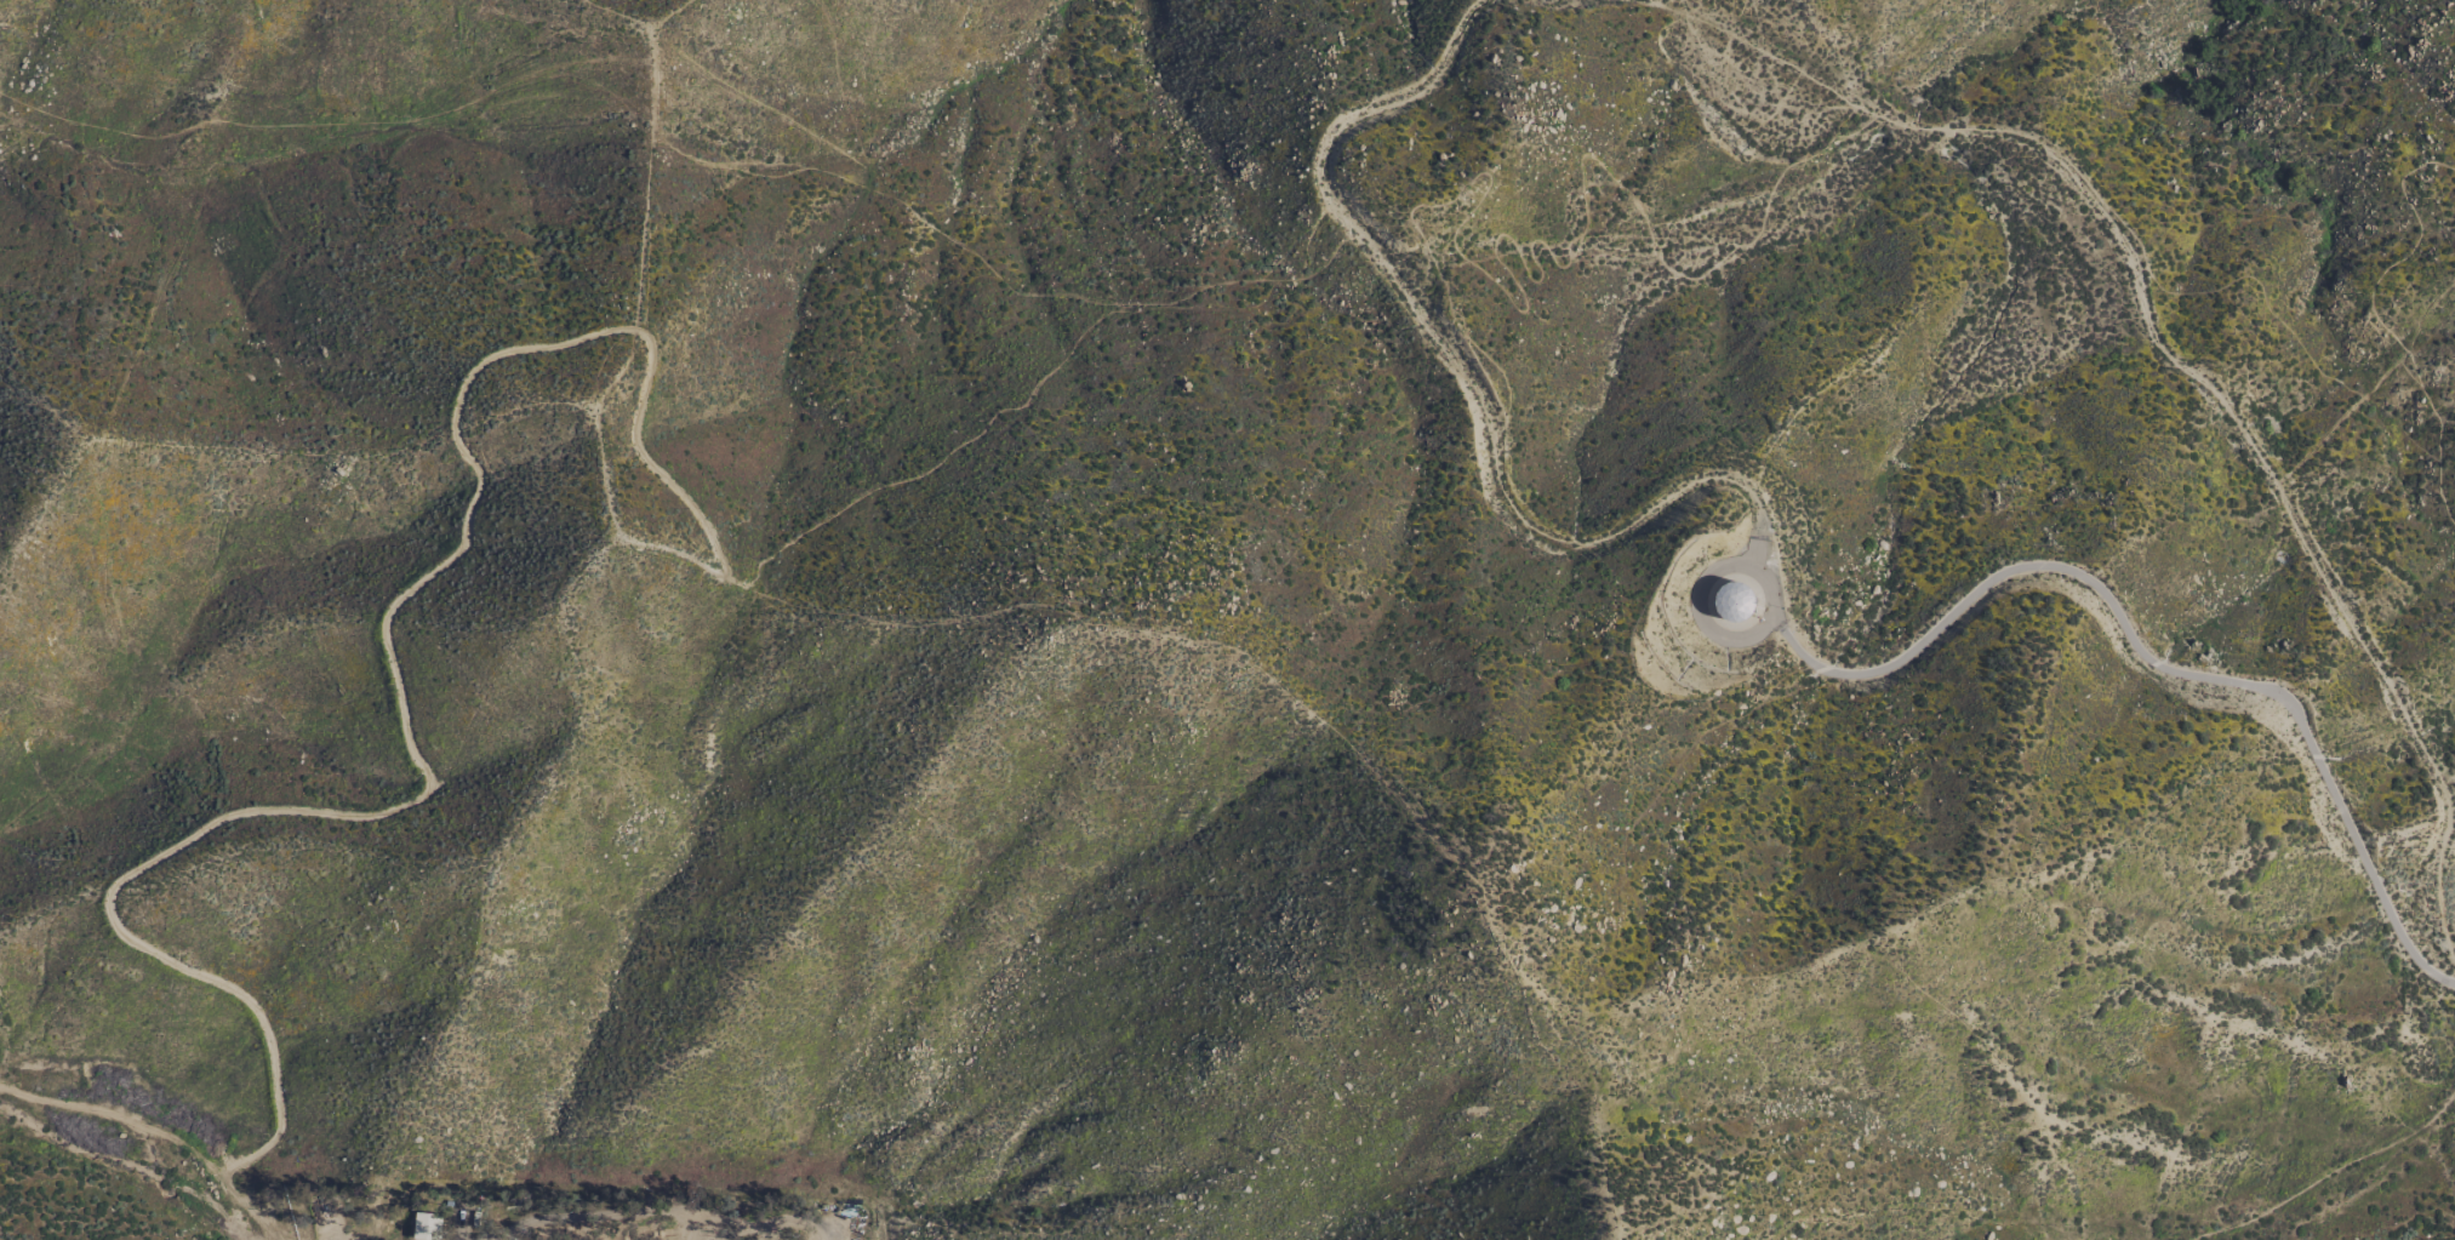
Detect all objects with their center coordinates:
road: (1757, 52)
road: (1643, 208)
road: (2366, 320)
road: (1451, 361)
road: (2284, 501)
road: (2124, 623)
building: (426, 1227)

